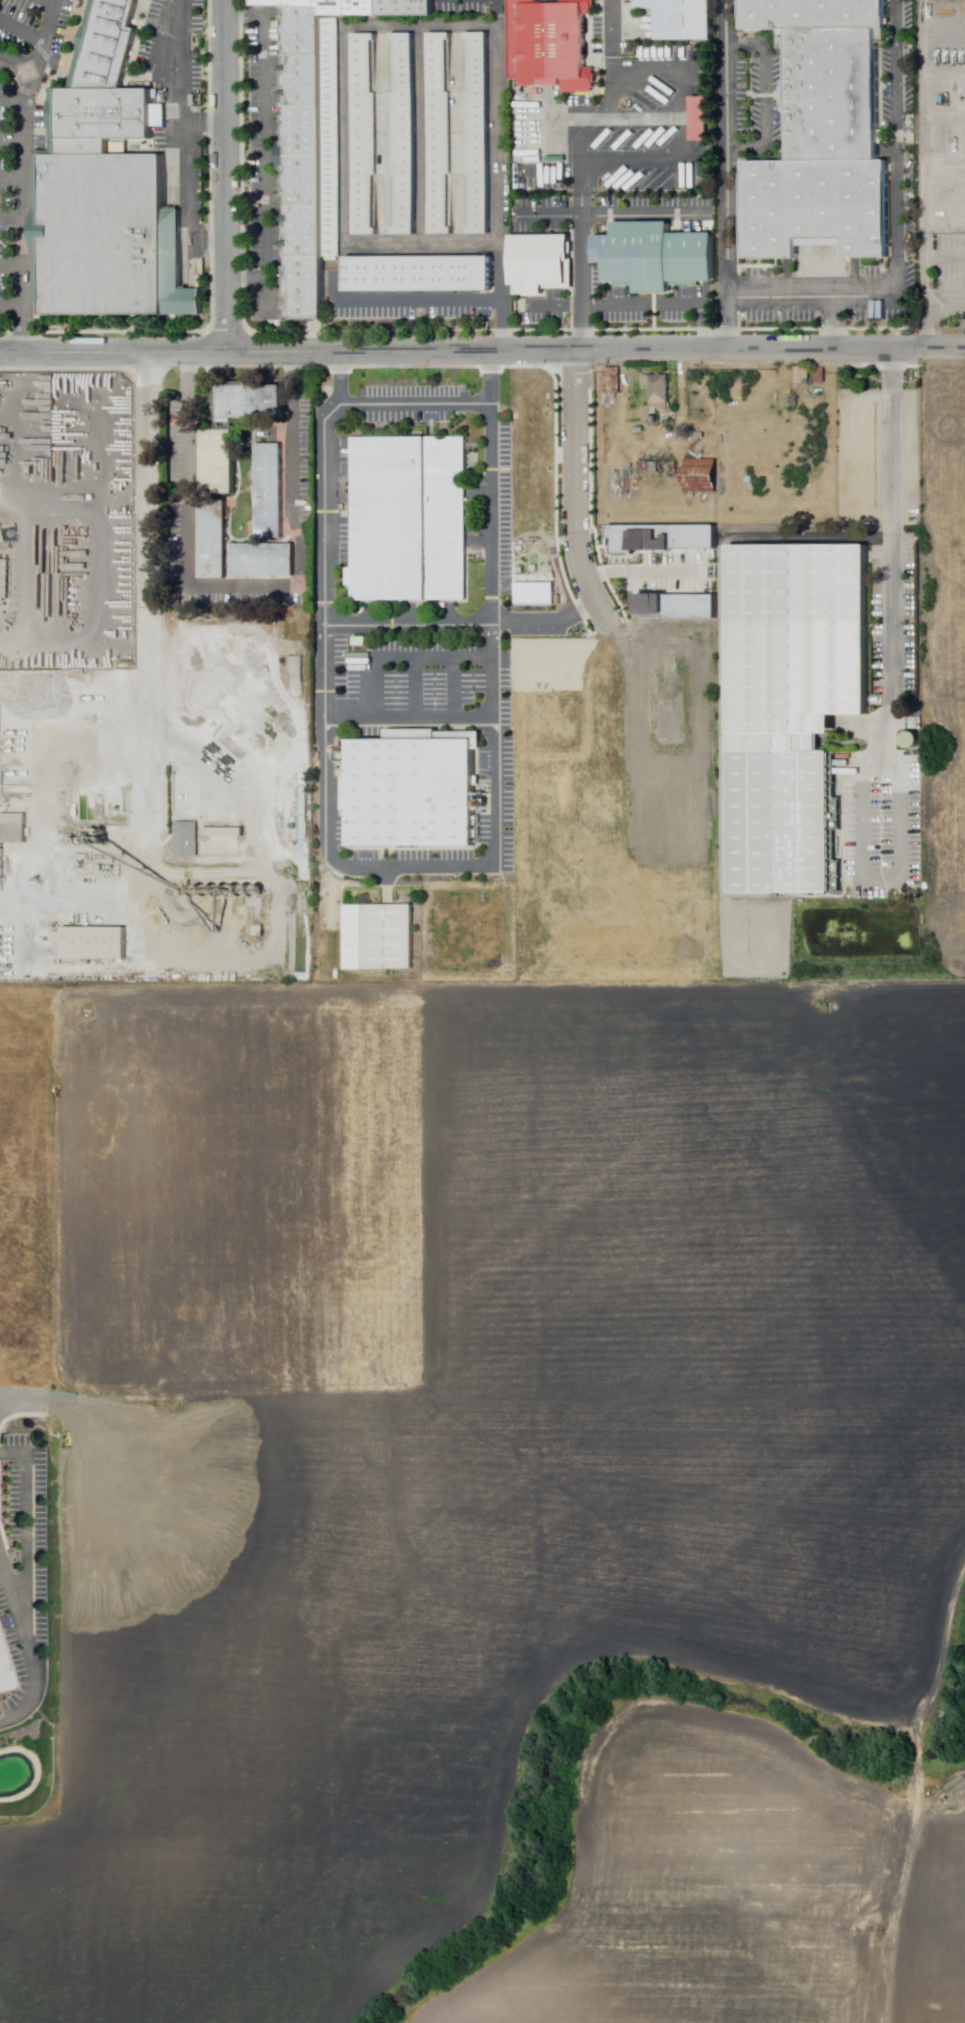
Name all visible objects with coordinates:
road: (49, 1)
building: (287, 3)
building: (378, 8)
building: (683, 19)
parking lot: (34, 26)
road: (21, 27)
road: (610, 28)
building: (305, 30)
road: (42, 37)
building: (553, 44)
building: (106, 45)
parking lot: (165, 45)
building: (306, 80)
road: (765, 95)
road: (13, 101)
road: (599, 108)
building: (692, 118)
building: (702, 119)
road: (203, 123)
building: (304, 131)
building: (404, 133)
building: (441, 134)
building: (480, 134)
building: (826, 134)
road: (13, 135)
building: (366, 135)
road: (185, 137)
building: (332, 138)
road: (680, 143)
road: (265, 144)
parking lot: (265, 165)
road: (724, 175)
road: (13, 176)
road: (227, 176)
building: (305, 179)
road: (26, 197)
parking lot: (6, 208)
building: (106, 214)
road: (610, 214)
road: (13, 218)
building: (307, 231)
road: (900, 234)
building: (657, 257)
building: (543, 263)
road: (13, 266)
road: (580, 273)
building: (420, 274)
road: (925, 283)
building: (307, 288)
road: (945, 298)
road: (404, 299)
road: (500, 301)
road: (613, 303)
road: (13, 308)
road: (832, 322)
road: (482, 351)
building: (802, 376)
building: (821, 376)
building: (613, 381)
building: (659, 390)
building: (817, 393)
road: (415, 402)
building: (252, 403)
building: (655, 421)
building: (640, 430)
building: (701, 435)
building: (699, 448)
building: (219, 462)
building: (661, 468)
building: (702, 476)
road: (150, 481)
building: (622, 483)
building: (269, 492)
building: (410, 519)
building: (663, 536)
building: (214, 540)
building: (264, 562)
building: (4, 579)
building: (536, 593)
building: (679, 604)
road: (467, 624)
parking lot: (885, 637)
building: (362, 642)
road: (404, 657)
road: (453, 686)
road: (415, 687)
road: (895, 703)
building: (794, 707)
road: (409, 717)
storage tank: (914, 742)
road: (154, 758)
building: (180, 792)
building: (414, 792)
building: (14, 830)
building: (224, 833)
building: (187, 840)
building: (106, 862)
road: (409, 867)
building: (259, 932)
wastewater plant: (472, 934)
building: (380, 938)
building: (95, 945)
road: (16, 1401)
crop: (463, 1436)
road: (28, 1526)
parking lot: (23, 1572)
road: (28, 1649)
building: (3, 1683)
crop: (702, 1882)
road: (898, 1895)
crop: (931, 1905)

